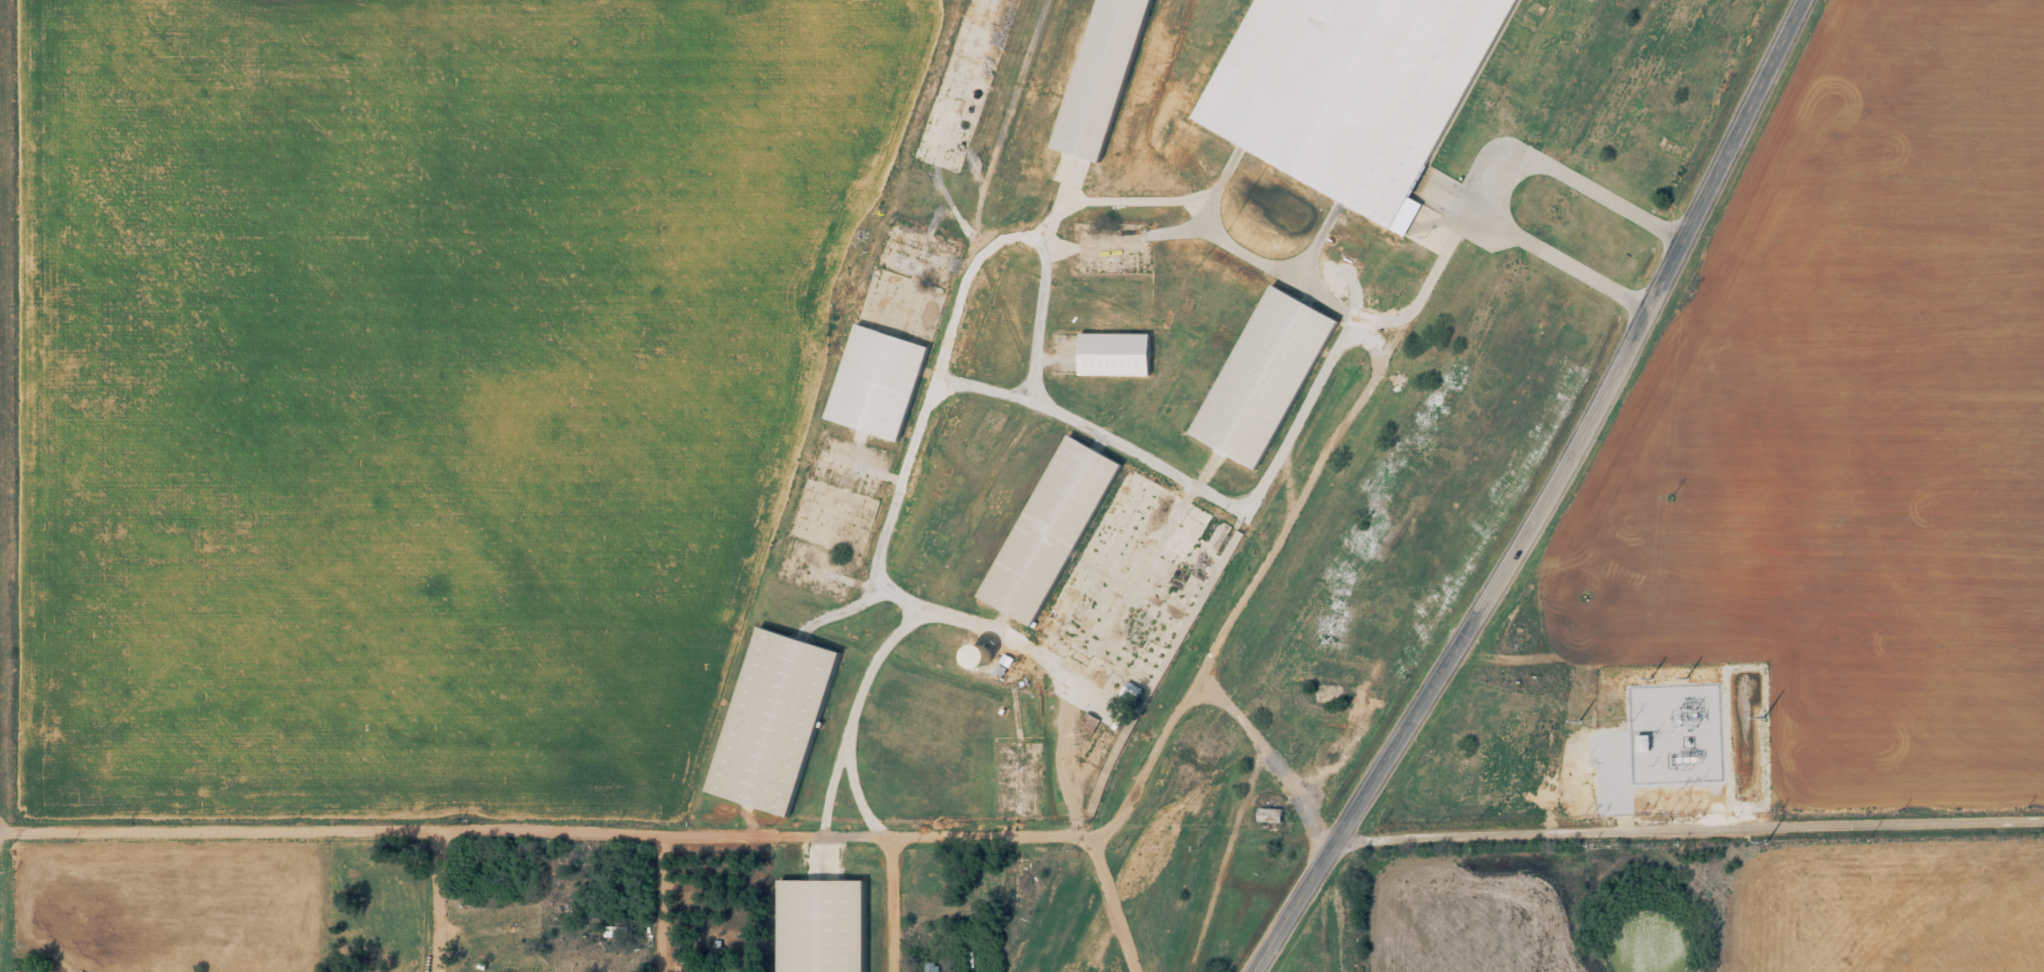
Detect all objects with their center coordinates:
building: (1103, 78)
building: (1360, 90)
building: (1115, 353)
building: (1265, 375)
building: (877, 381)
road: (1588, 427)
building: (1111, 562)
building: (991, 656)
building: (774, 720)
power substation: (1622, 765)
building: (1269, 814)
road: (444, 832)
road: (1689, 839)
road: (432, 902)
road: (656, 903)
road: (889, 904)
road: (1293, 905)
building: (821, 926)
building: (32, 969)

